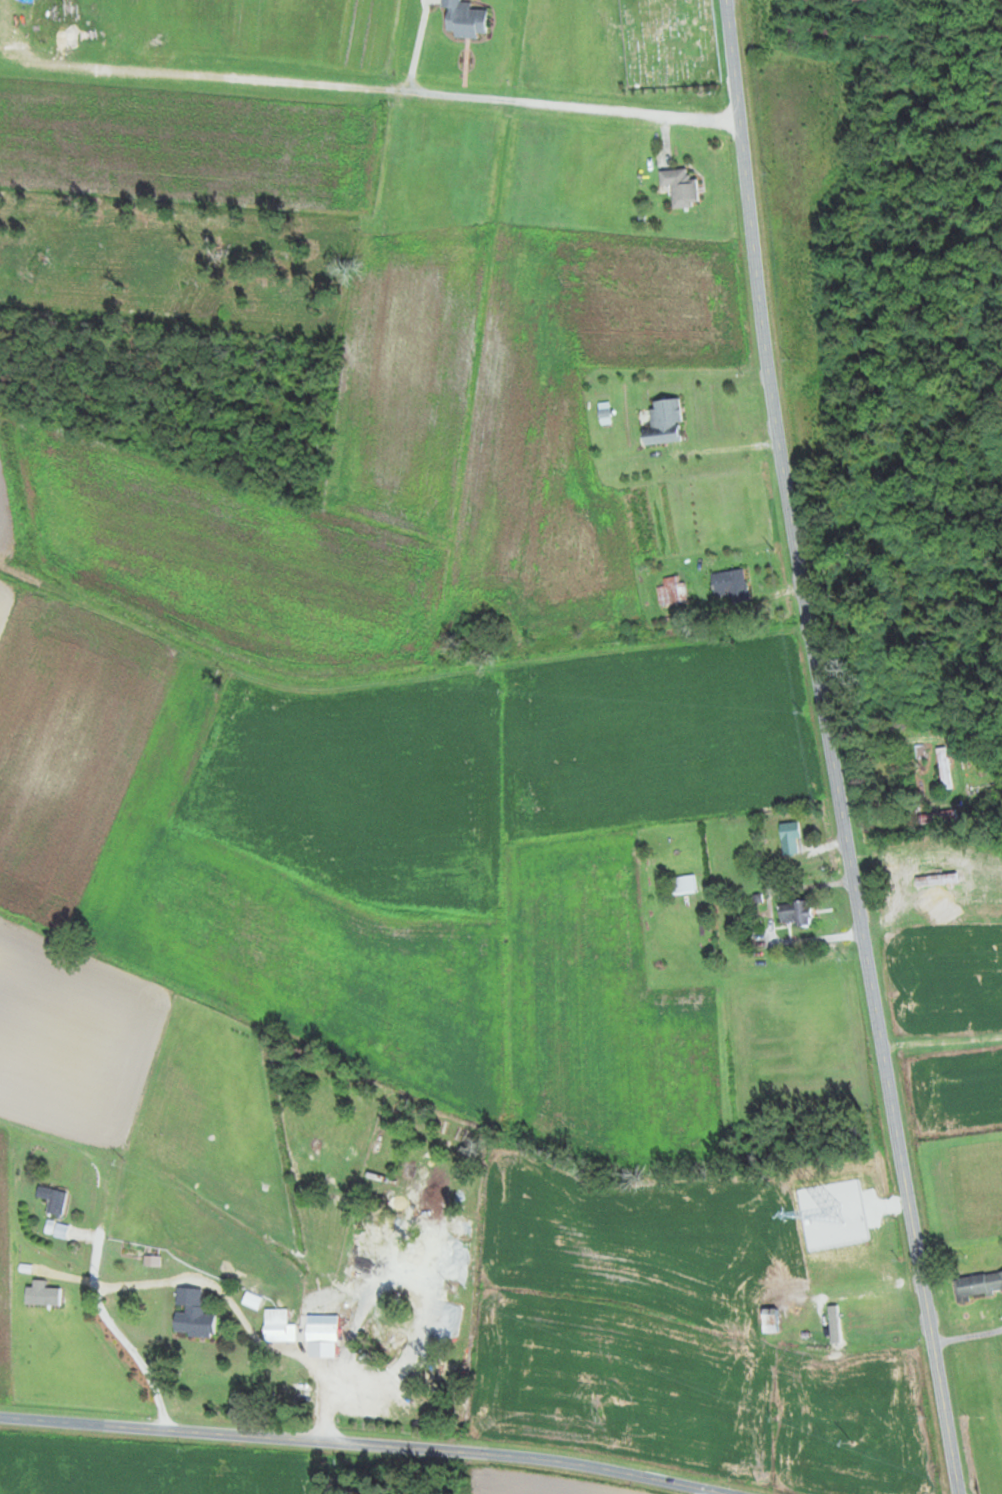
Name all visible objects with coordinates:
building: (847, 0)
building: (809, 29)
building: (867, 30)
park: (669, 43)
building: (679, 187)
building: (663, 422)
building: (728, 584)
building: (669, 592)
road: (353, 663)
road: (831, 748)
building: (943, 768)
building: (935, 816)
building: (791, 837)
building: (684, 884)
building: (794, 912)
road: (942, 1031)
building: (50, 1198)
building: (59, 1230)
building: (118, 1266)
building: (979, 1284)
building: (193, 1321)
building: (278, 1326)
building: (770, 1327)
building: (321, 1333)
road: (369, 1443)

